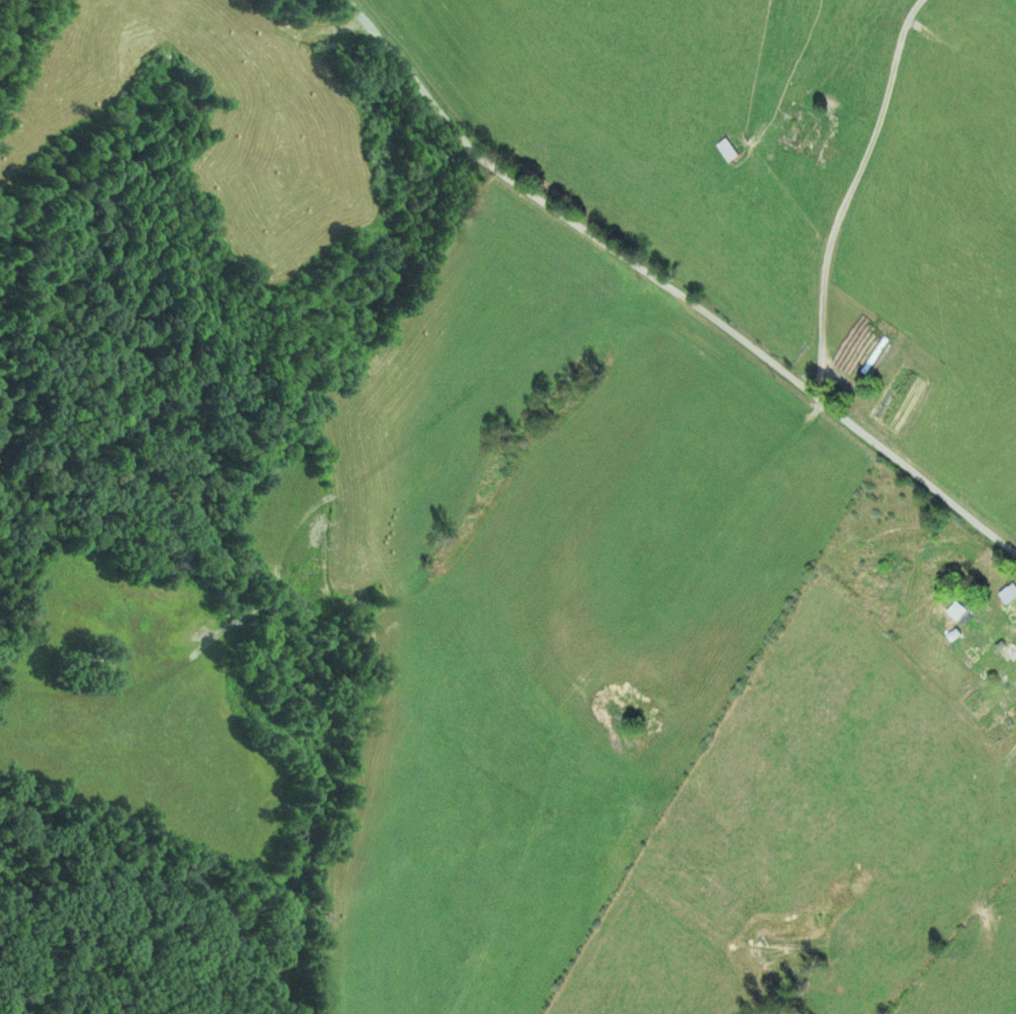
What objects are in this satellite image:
building: (727, 150)
road: (680, 289)
building: (869, 368)
building: (1009, 594)
building: (957, 611)
building: (1003, 655)

